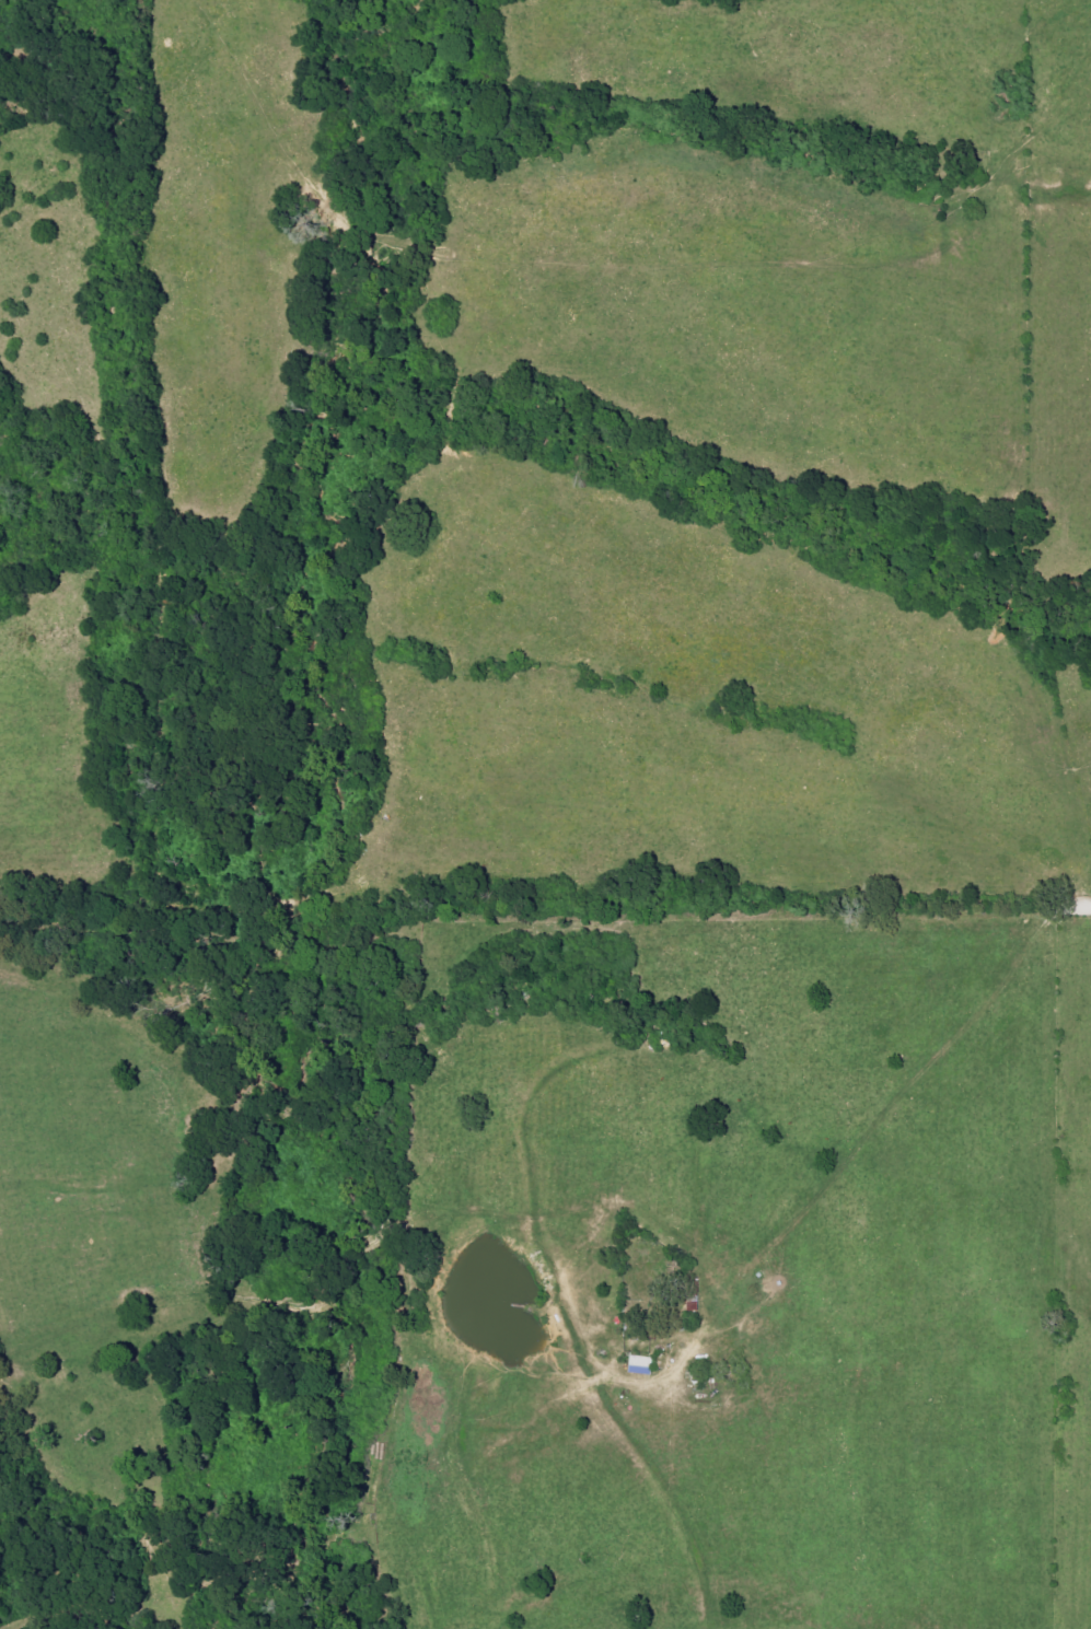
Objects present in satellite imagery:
road: (1081, 879)
building: (642, 1364)

